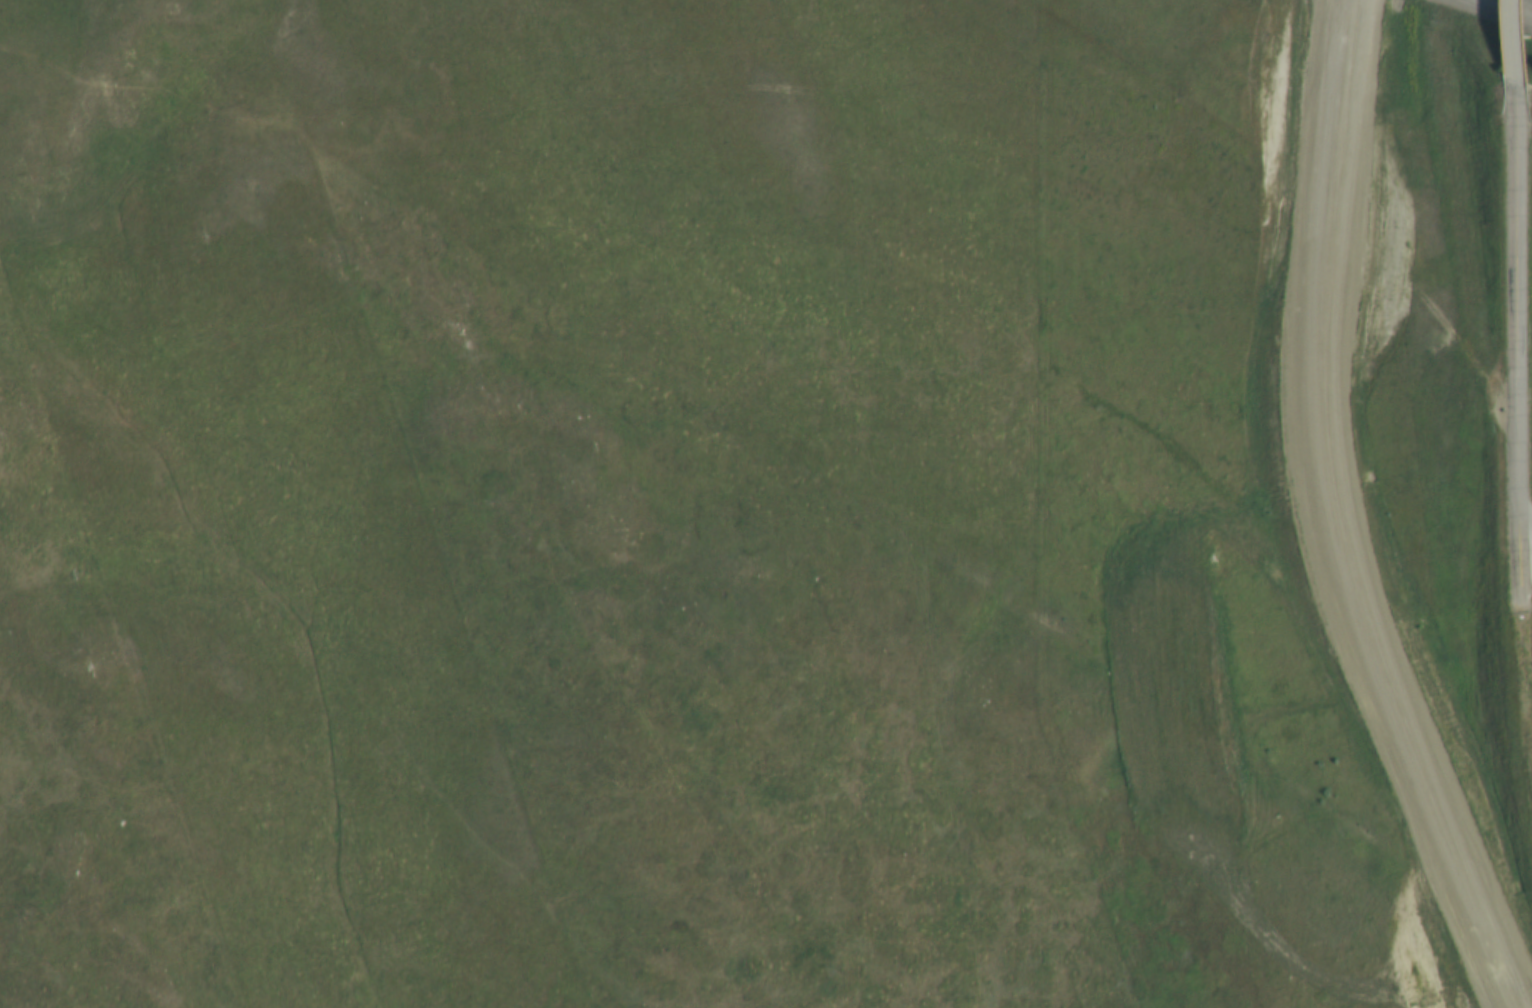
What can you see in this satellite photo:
road: (1522, 3)
road: (1518, 41)
road: (1517, 313)
road: (1524, 546)
road: (1519, 644)

